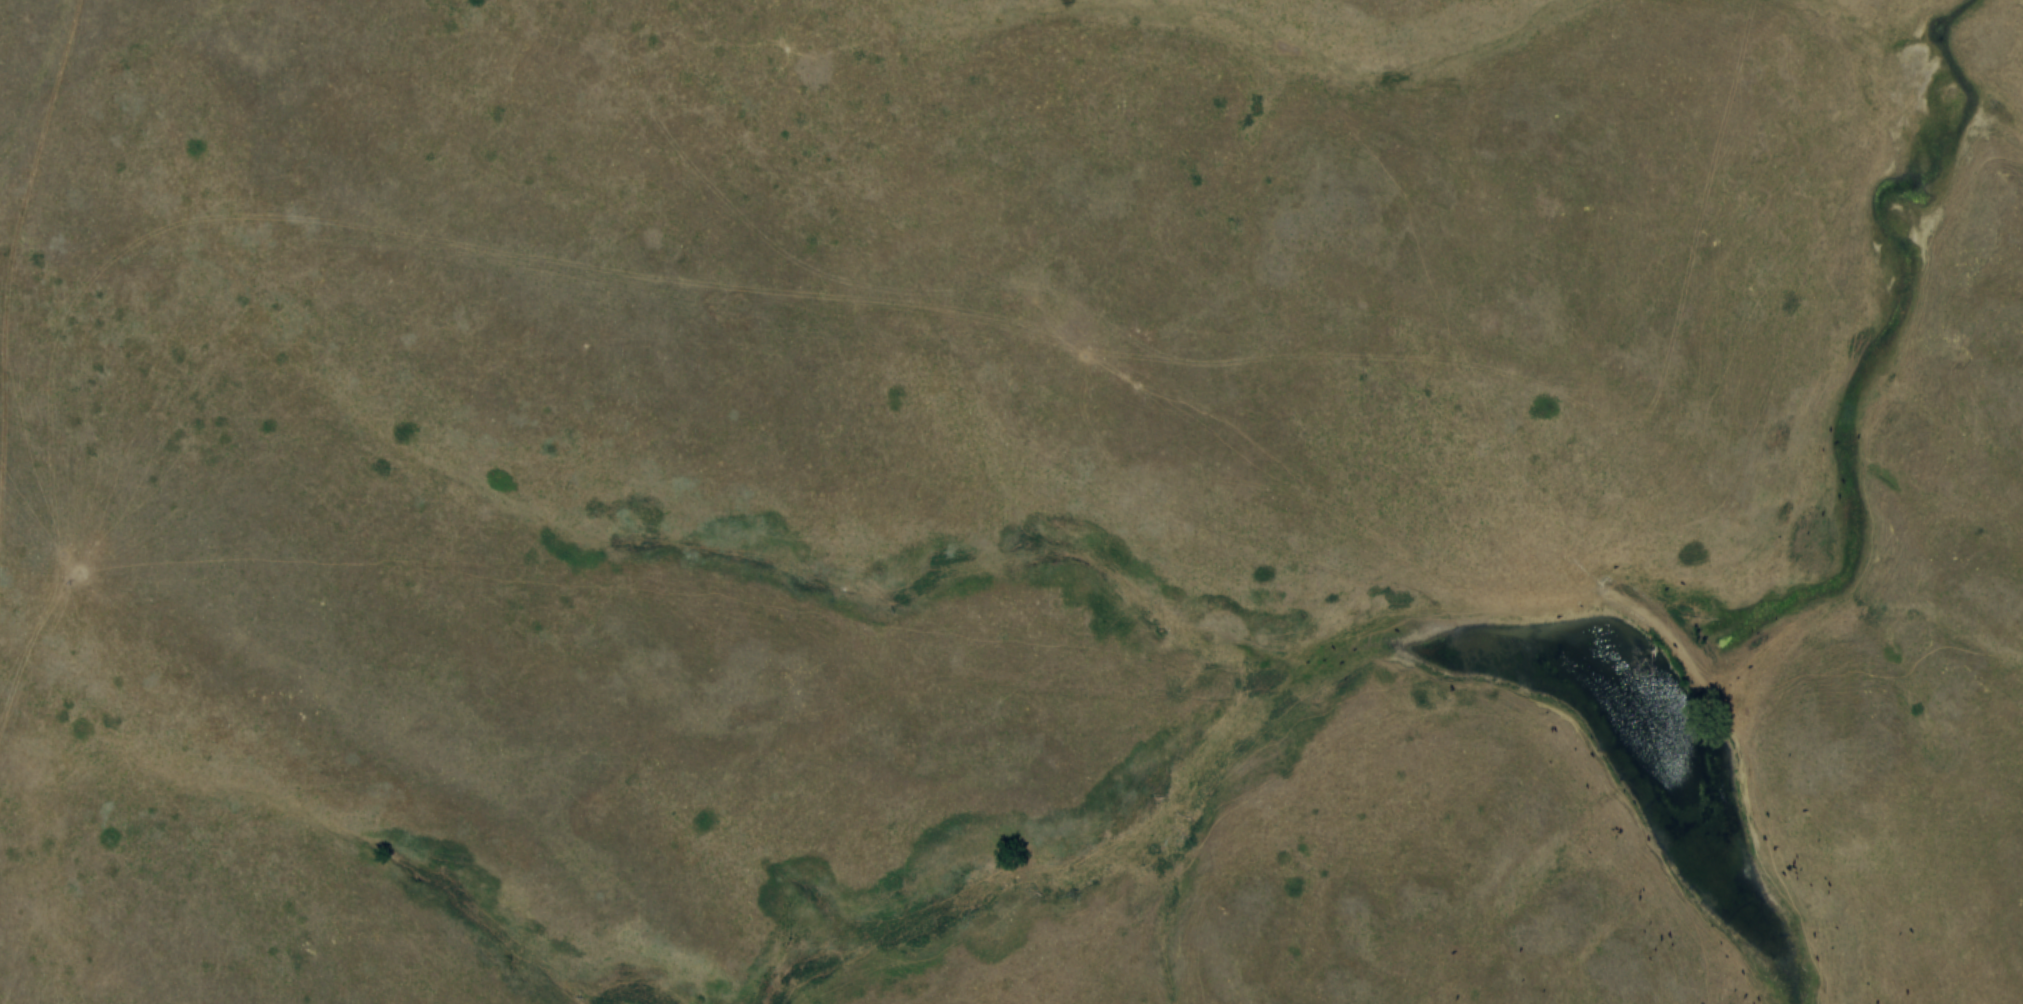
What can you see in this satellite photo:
road: (30, 66)

